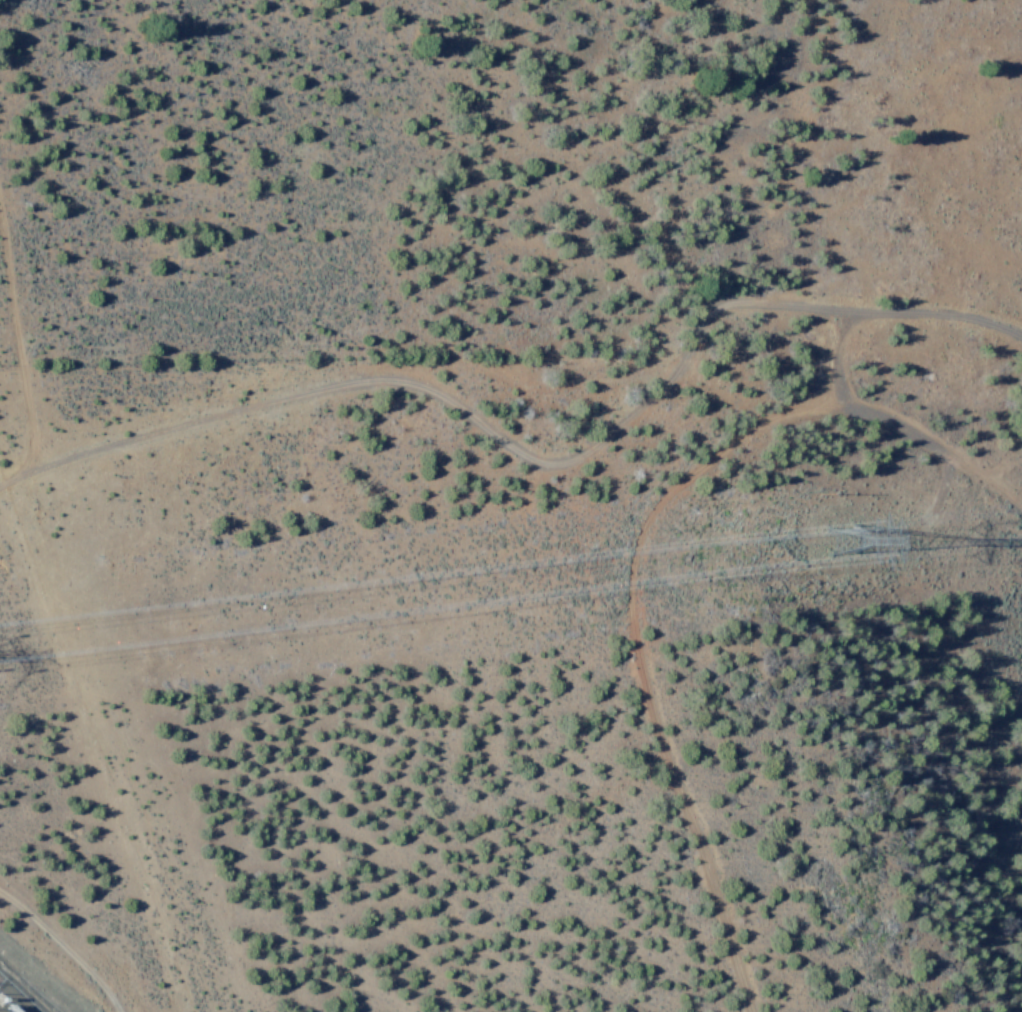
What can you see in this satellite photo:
road: (18, 352)
road: (528, 457)
power tower: (891, 543)
road: (61, 946)
power substation: (16, 997)

